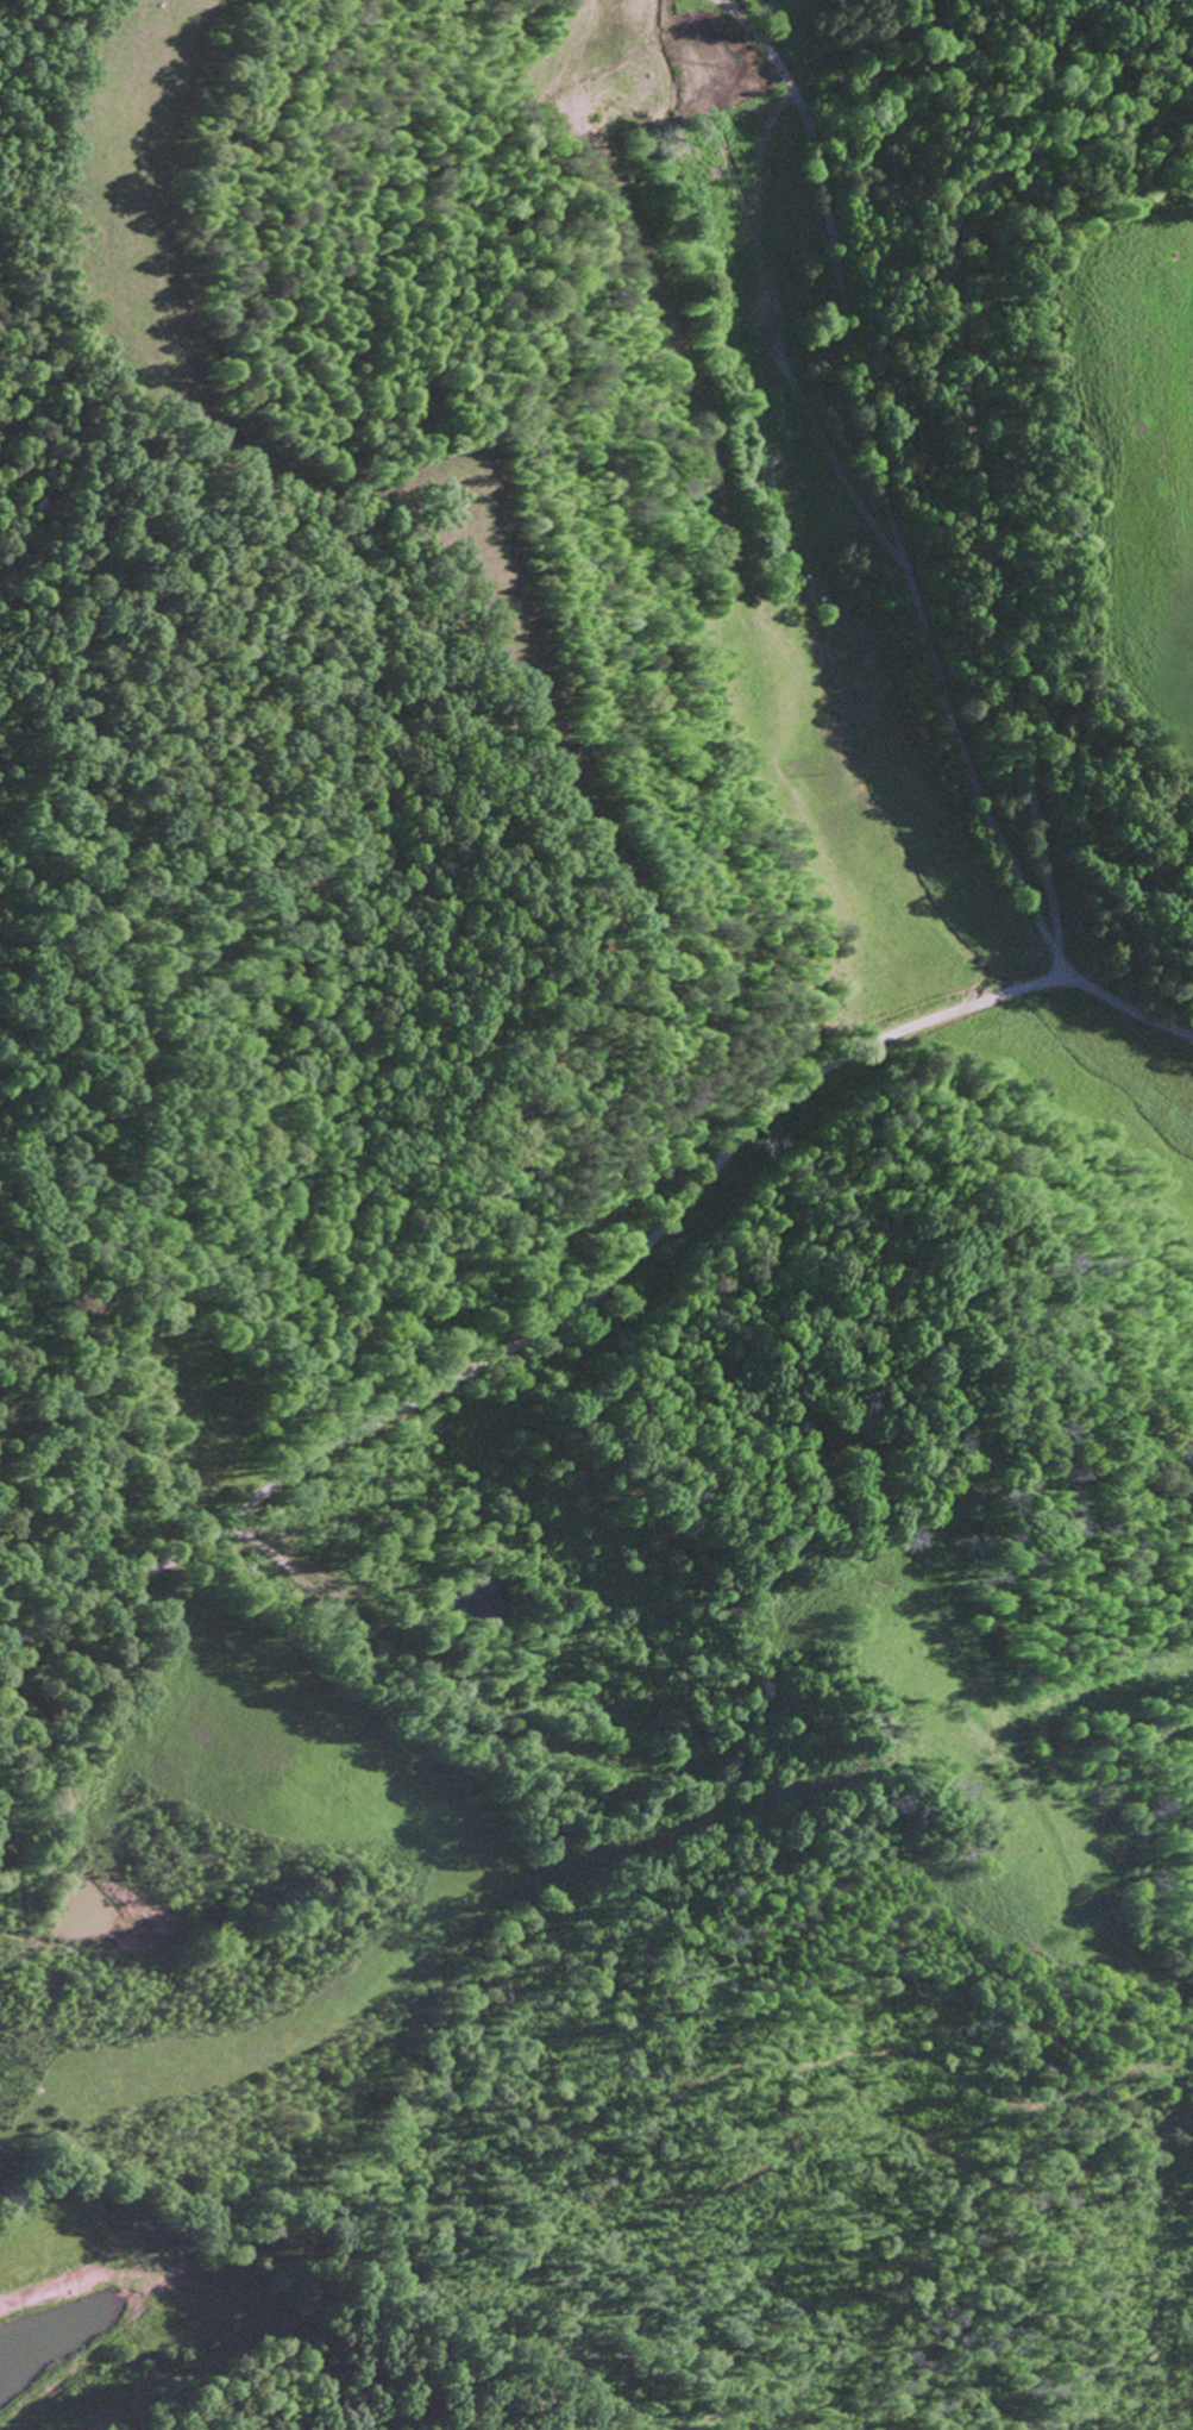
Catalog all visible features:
road: (980, 459)
road: (904, 551)
road: (554, 1326)

